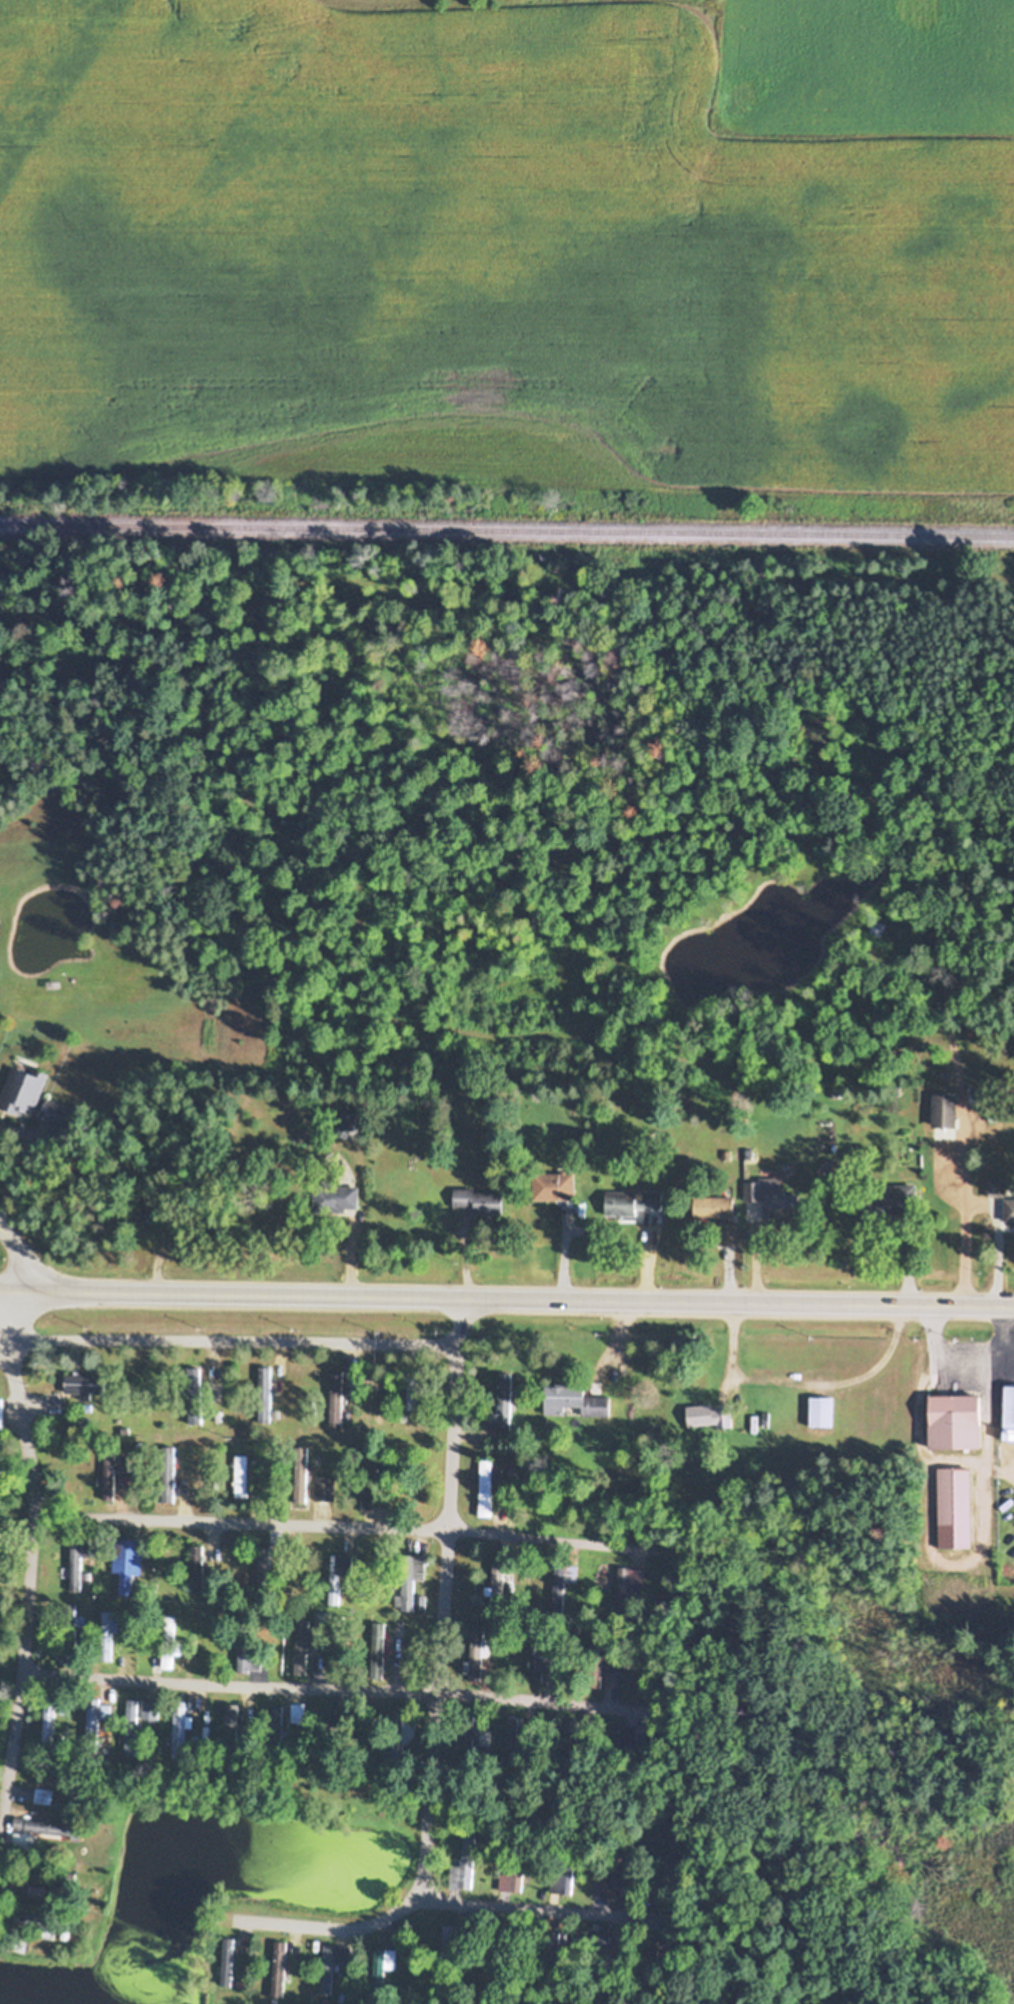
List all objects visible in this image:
quarry: (420, 2)
railway: (507, 530)
building: (211, 1003)
building: (24, 1090)
building: (946, 1111)
building: (59, 1114)
building: (348, 1122)
road: (5, 1180)
building: (557, 1186)
building: (997, 1187)
building: (338, 1198)
building: (770, 1199)
road: (977, 1199)
building: (480, 1201)
building: (633, 1202)
building: (893, 1203)
building: (715, 1207)
building: (1010, 1211)
road: (19, 1279)
road: (506, 1299)
road: (3, 1341)
road: (231, 1342)
road: (965, 1353)
road: (799, 1383)
building: (83, 1385)
building: (414, 1392)
building: (266, 1394)
building: (195, 1396)
building: (337, 1398)
building: (576, 1400)
building: (502, 1402)
building: (1010, 1412)
building: (3, 1413)
building: (710, 1415)
building: (959, 1422)
building: (114, 1469)
building: (167, 1474)
building: (244, 1475)
building: (300, 1480)
building: (326, 1488)
building: (489, 1489)
building: (375, 1497)
building: (956, 1508)
road: (332, 1523)
building: (81, 1558)
building: (127, 1563)
building: (197, 1569)
building: (568, 1575)
building: (334, 1579)
building: (627, 1586)
building: (499, 1587)
road: (442, 1597)
building: (407, 1599)
building: (70, 1614)
building: (108, 1632)
building: (303, 1648)
building: (376, 1650)
building: (477, 1654)
building: (247, 1657)
building: (541, 1664)
building: (612, 1680)
road: (152, 1681)
building: (133, 1710)
building: (151, 1712)
building: (298, 1713)
building: (278, 1715)
building: (96, 1719)
building: (234, 1723)
building: (49, 1724)
building: (403, 1724)
building: (181, 1726)
building: (515, 1737)
building: (571, 1737)
road: (12, 1742)
building: (485, 1756)
building: (49, 1789)
building: (49, 1827)
building: (26, 1842)
building: (466, 1864)
building: (514, 1878)
building: (562, 1880)
building: (621, 1885)
building: (38, 1891)
road: (445, 1898)
building: (47, 1923)
building: (451, 1945)
building: (229, 1961)
building: (334, 1964)
building: (280, 1970)

